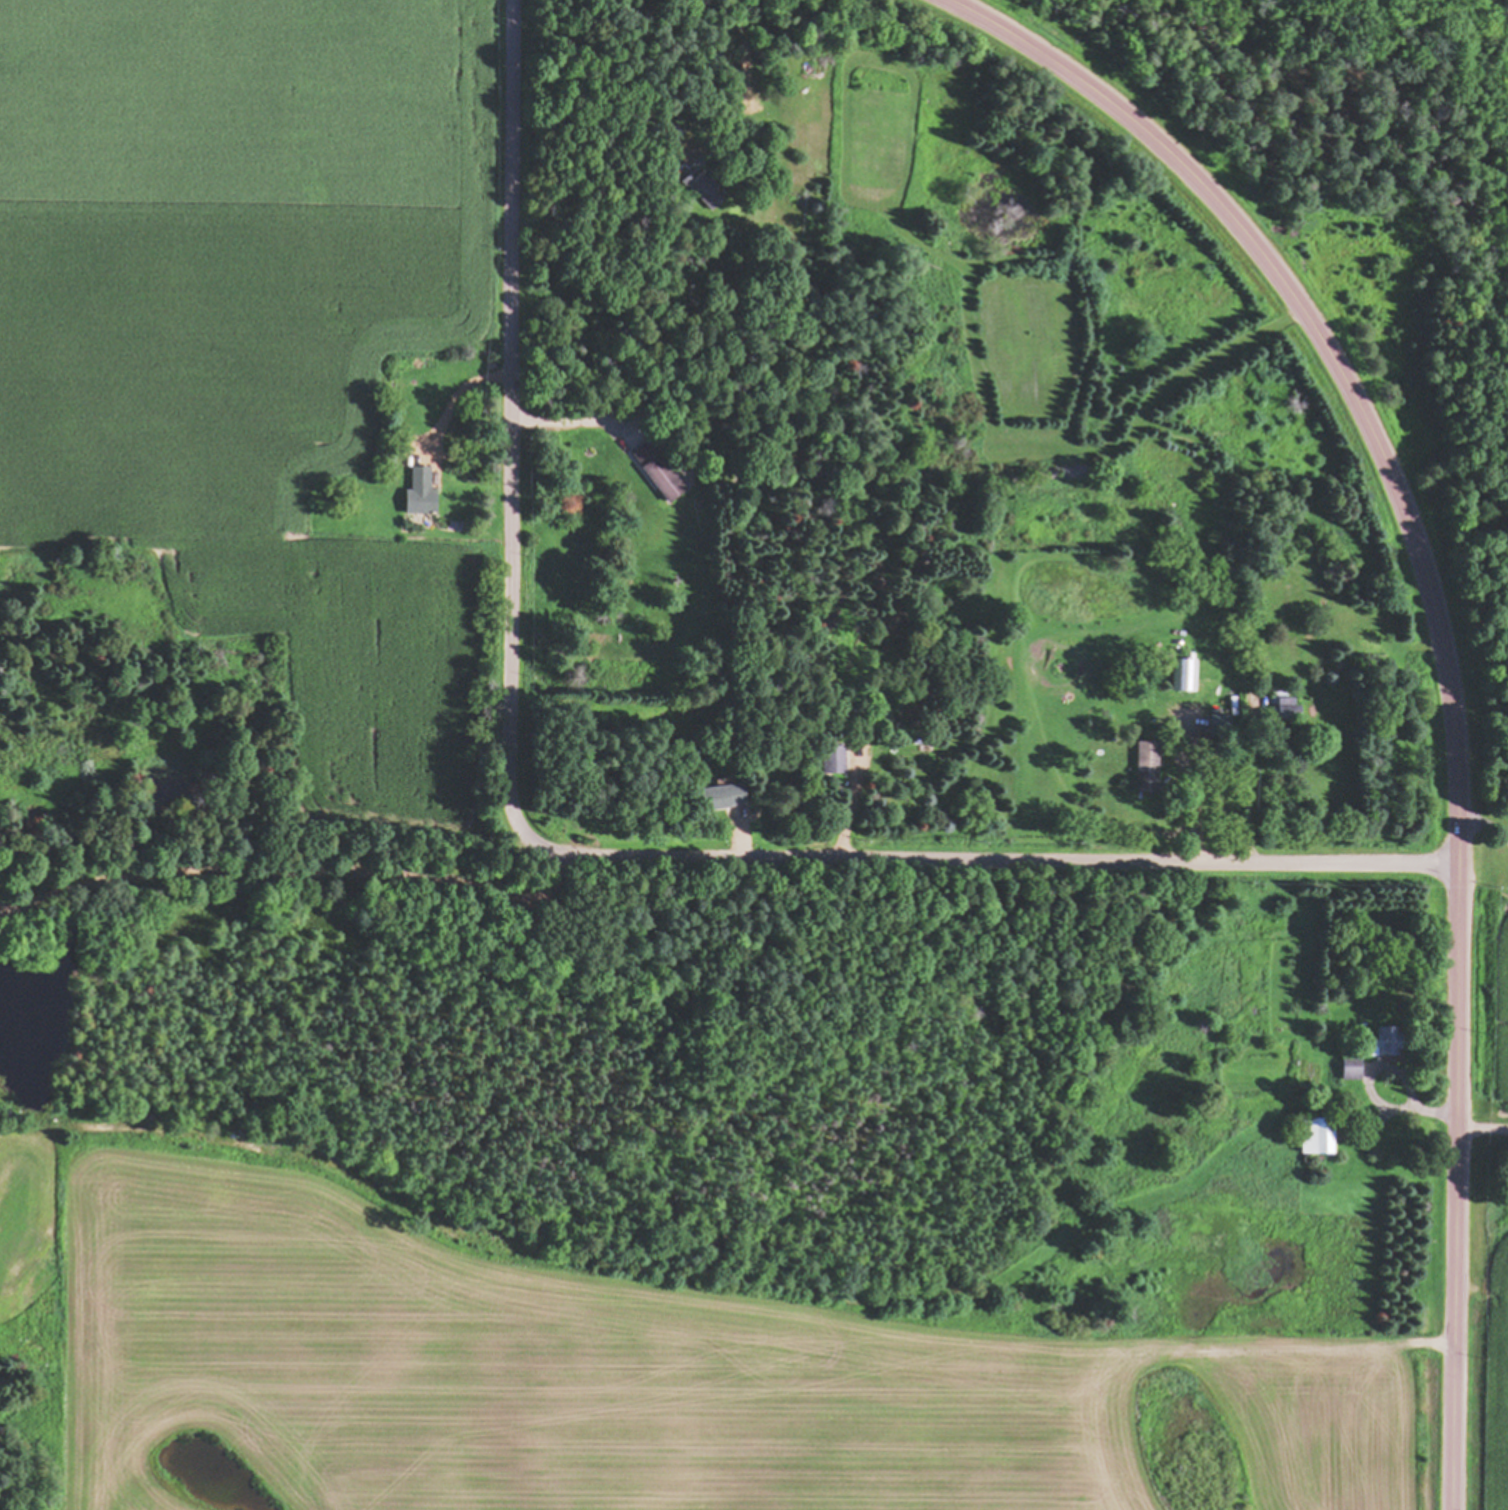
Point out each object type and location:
building: (707, 190)
building: (660, 472)
building: (424, 493)
road: (1446, 656)
building: (1184, 675)
building: (836, 759)
building: (730, 795)
road: (572, 855)
building: (1394, 1041)
building: (1353, 1068)
building: (1320, 1137)

